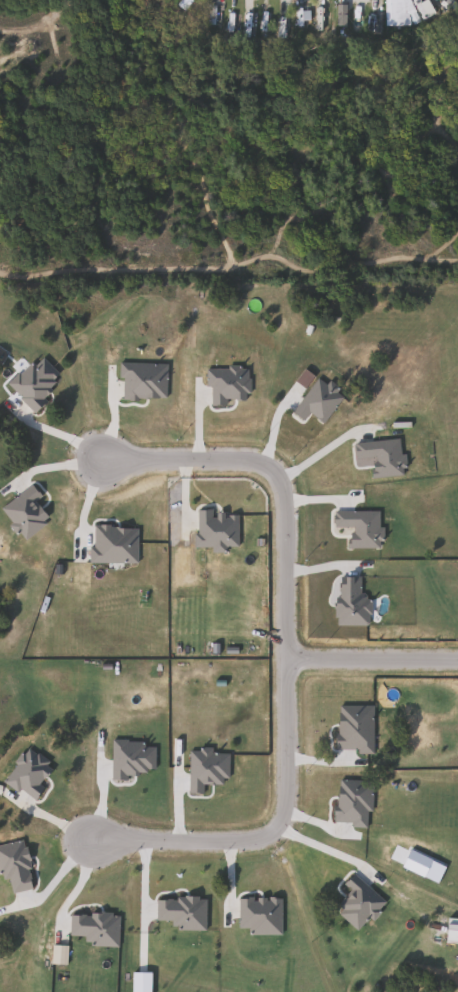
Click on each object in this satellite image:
building: (181, 2)
road: (318, 452)
road: (283, 559)
building: (18, 584)
road: (262, 835)
road: (319, 847)

